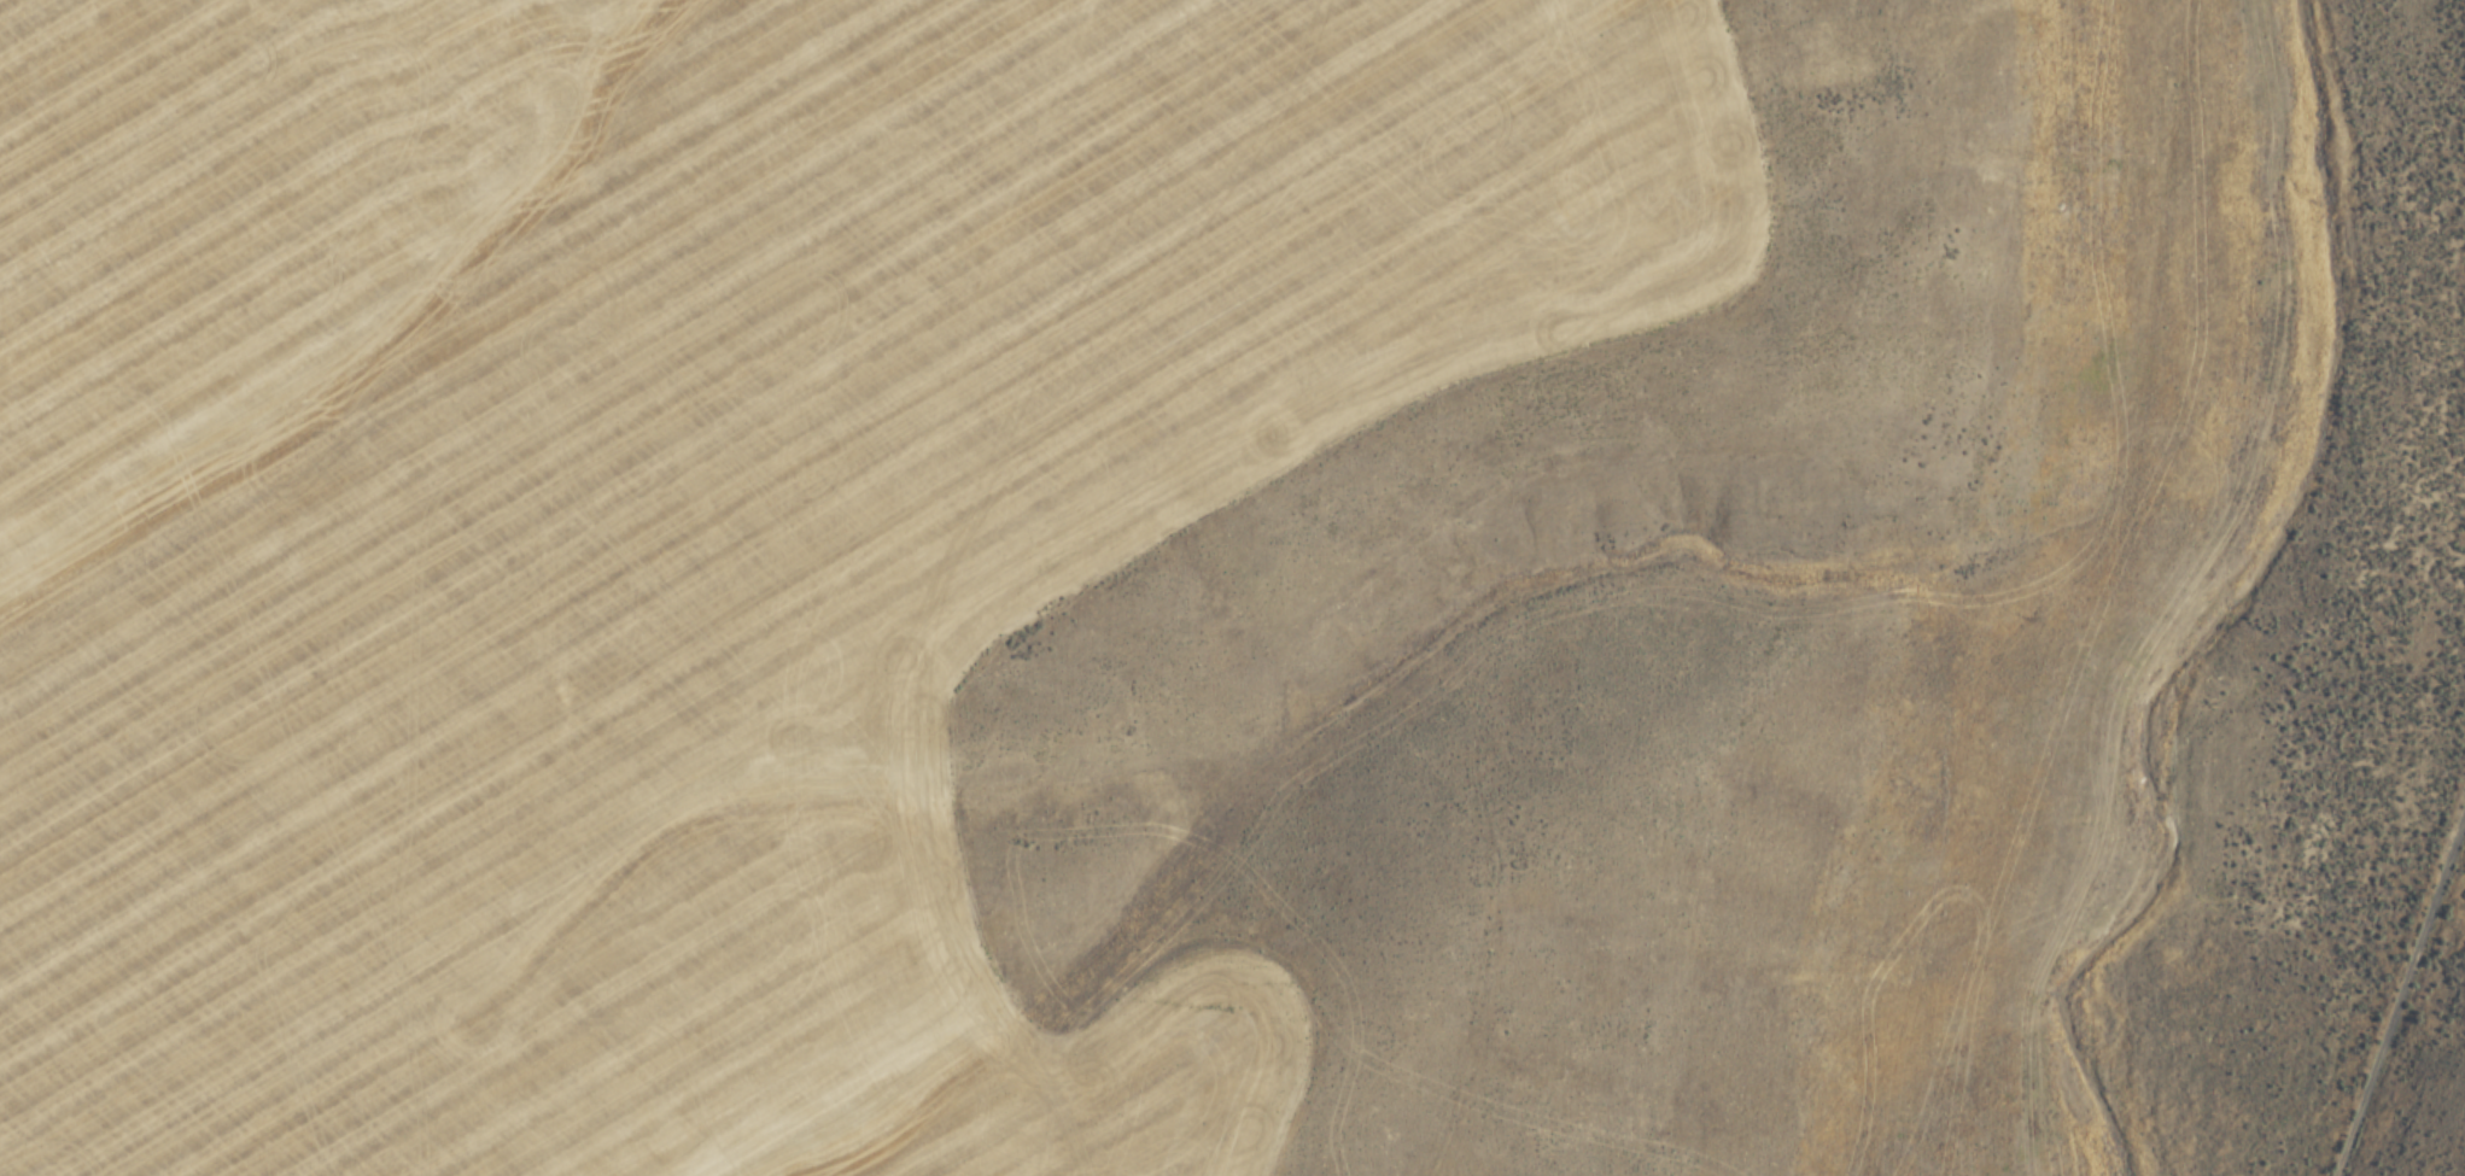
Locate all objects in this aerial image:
road: (2463, 320)
road: (2396, 911)

